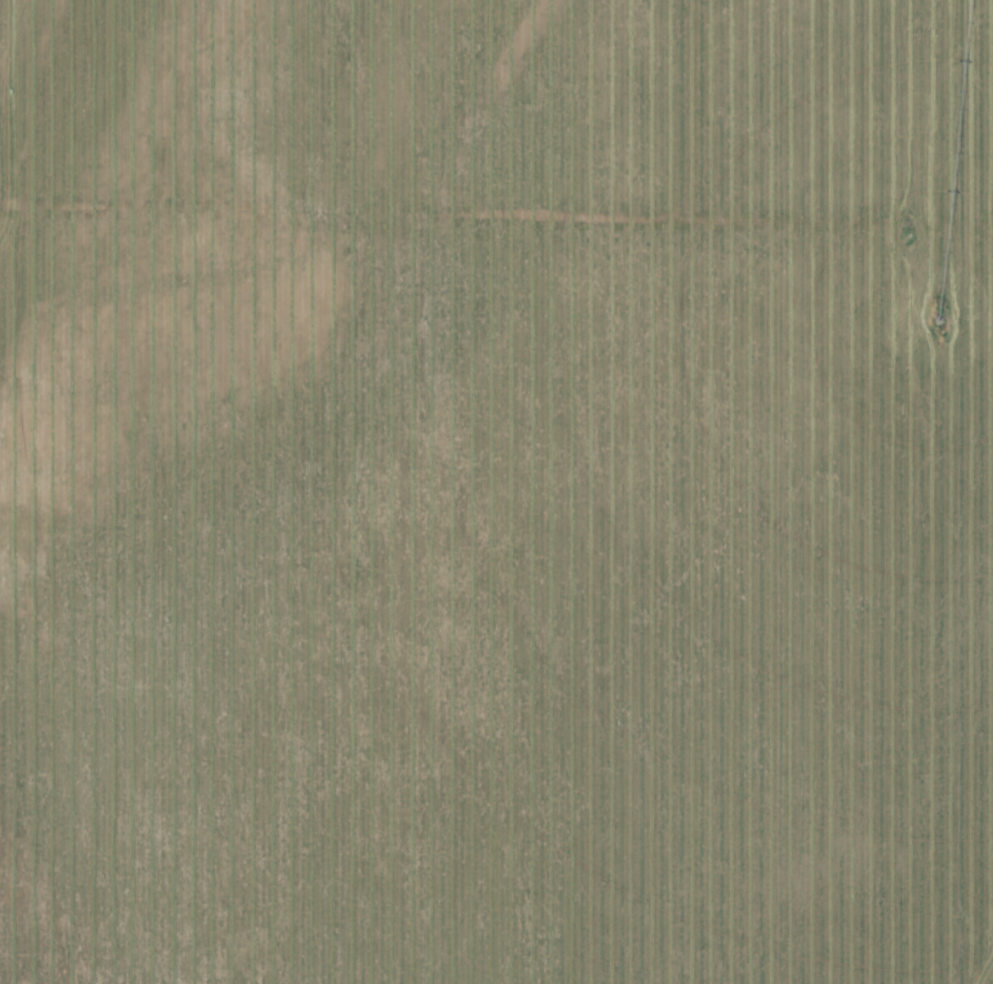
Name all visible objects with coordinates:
crop: (496, 492)

